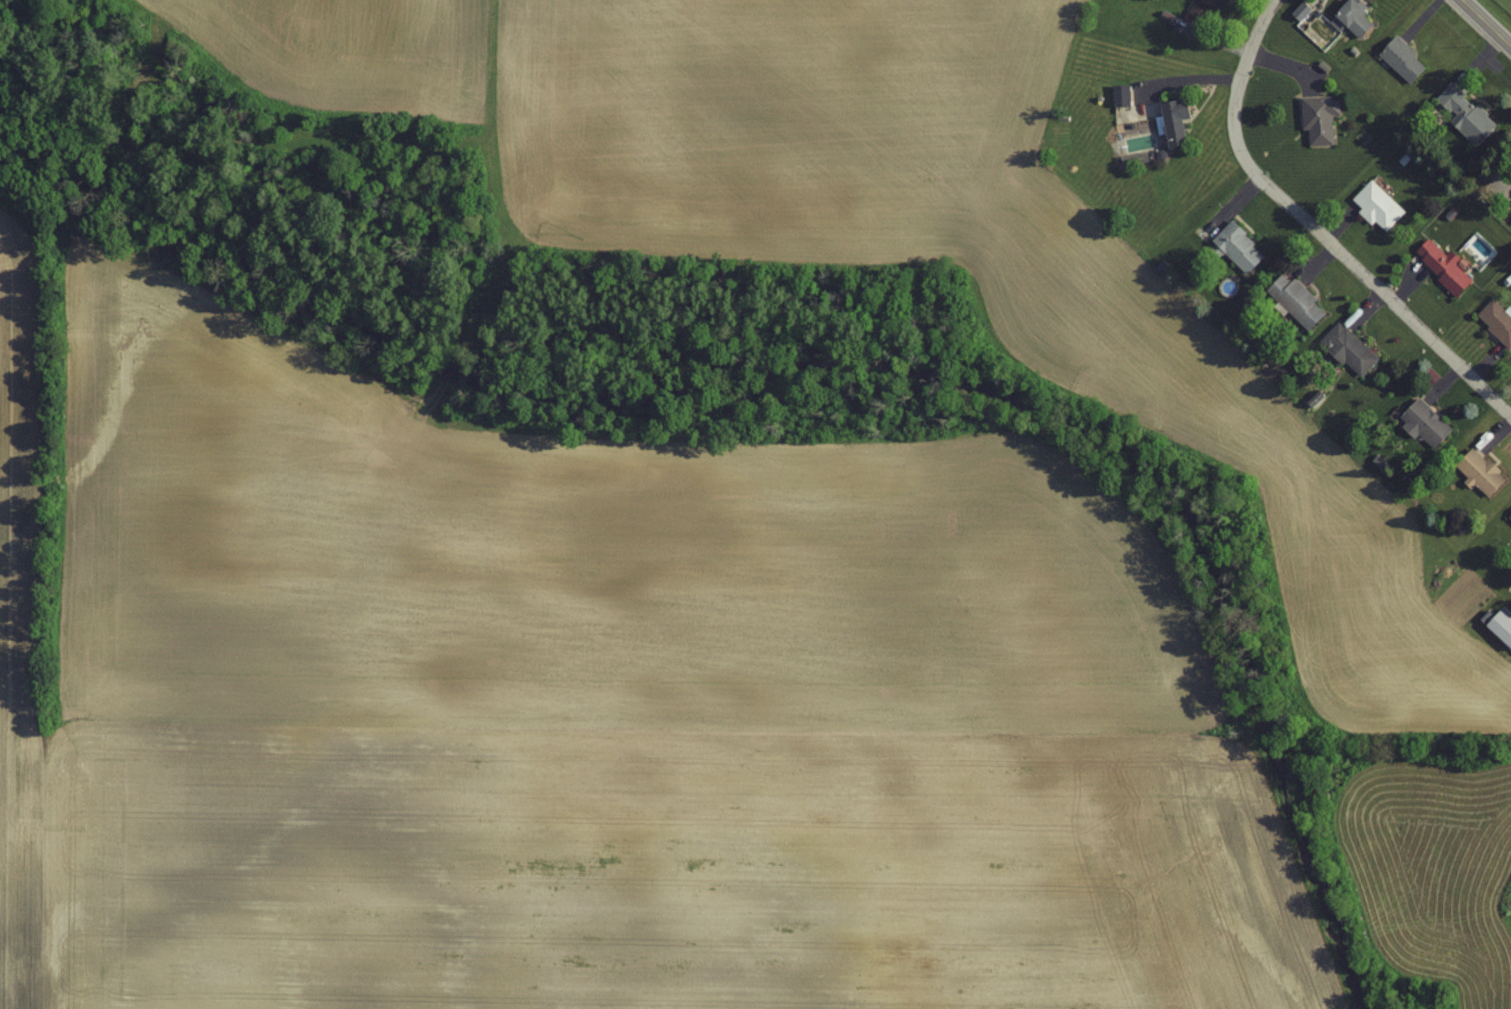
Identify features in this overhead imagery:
road: (1483, 26)
road: (493, 119)
road: (1311, 234)
crop: (879, 235)
crop: (582, 698)
crop: (1431, 872)

